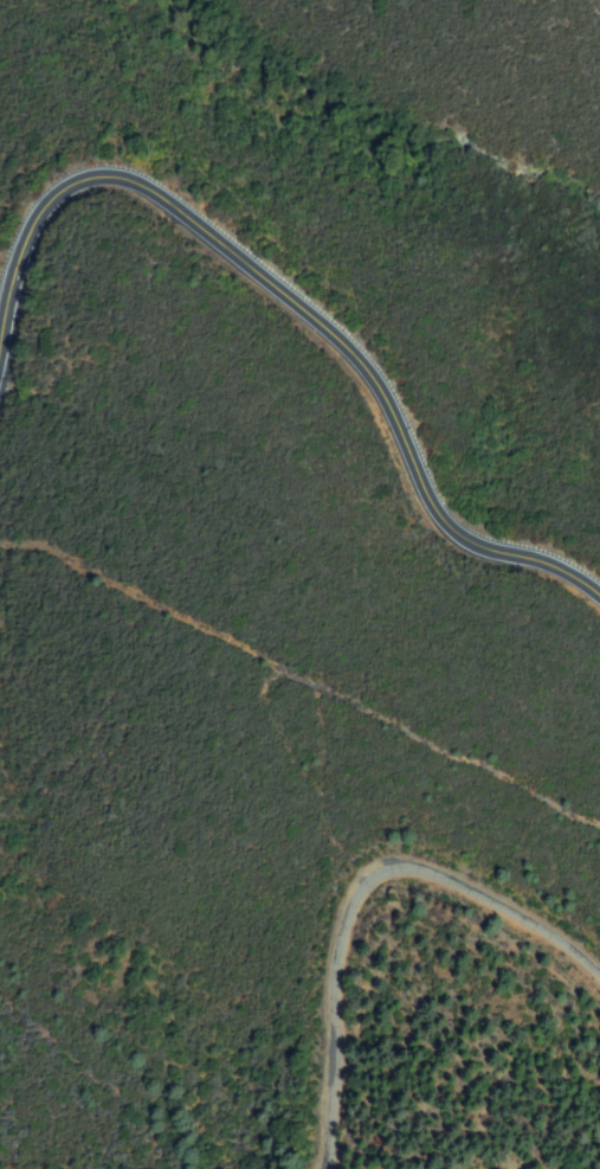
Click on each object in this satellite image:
road: (301, 304)
road: (369, 905)

